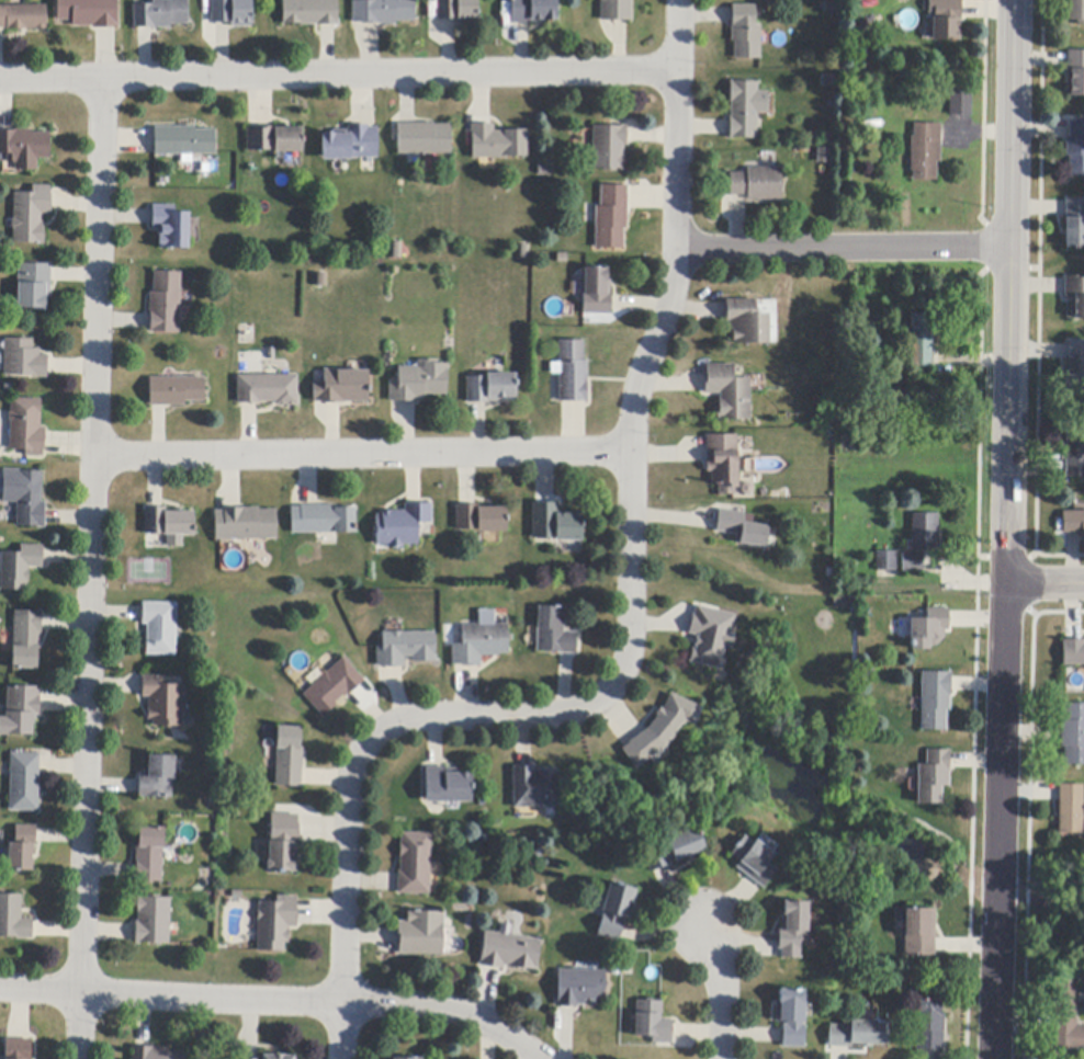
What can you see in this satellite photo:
building: (829, 7)
building: (617, 10)
building: (383, 11)
building: (459, 11)
building: (533, 11)
building: (1076, 11)
building: (233, 12)
building: (310, 12)
building: (89, 13)
building: (161, 14)
building: (23, 18)
building: (946, 19)
building: (746, 33)
building: (1075, 73)
road: (341, 77)
building: (828, 81)
building: (960, 103)
building: (746, 110)
building: (275, 139)
building: (424, 139)
building: (183, 143)
building: (498, 143)
building: (351, 144)
building: (24, 148)
building: (609, 148)
building: (1075, 149)
building: (925, 151)
building: (545, 170)
building: (757, 184)
building: (31, 215)
building: (611, 217)
building: (1074, 224)
building: (171, 227)
road: (845, 249)
building: (396, 250)
building: (523, 251)
building: (320, 280)
building: (34, 285)
building: (596, 293)
road: (1009, 293)
building: (1075, 295)
building: (165, 303)
building: (746, 322)
building: (921, 342)
building: (24, 360)
building: (1074, 369)
building: (572, 372)
building: (419, 382)
building: (342, 387)
building: (492, 388)
building: (268, 389)
building: (177, 391)
building: (729, 392)
building: (27, 428)
building: (1073, 453)
road: (363, 456)
building: (723, 463)
building: (25, 497)
building: (481, 519)
building: (323, 520)
building: (1073, 523)
building: (169, 524)
building: (246, 524)
building: (555, 524)
building: (402, 525)
building: (741, 528)
building: (924, 532)
road: (93, 535)
building: (885, 561)
building: (912, 562)
building: (20, 567)
road: (1045, 584)
building: (839, 603)
road: (630, 605)
building: (160, 628)
building: (928, 629)
building: (554, 631)
building: (710, 636)
building: (26, 639)
building: (481, 644)
building: (406, 648)
building: (1073, 652)
building: (332, 686)
building: (934, 701)
building: (163, 702)
building: (21, 710)
building: (660, 729)
building: (1073, 735)
building: (289, 758)
building: (157, 777)
building: (933, 777)
building: (24, 782)
building: (448, 786)
building: (535, 788)
building: (1070, 809)
road: (1000, 822)
building: (284, 843)
building: (22, 849)
building: (673, 850)
building: (150, 855)
building: (754, 861)
building: (415, 864)
building: (617, 910)
building: (13, 919)
building: (153, 921)
building: (276, 923)
building: (792, 929)
building: (918, 933)
building: (421, 934)
building: (510, 952)
building: (580, 987)
road: (720, 992)
road: (275, 1000)
building: (792, 1017)
building: (1065, 1017)
building: (653, 1023)
road: (82, 1025)
building: (928, 1026)
road: (342, 1032)
building: (858, 1034)
building: (18, 1049)
building: (156, 1054)
building: (278, 1057)
building: (406, 1057)

